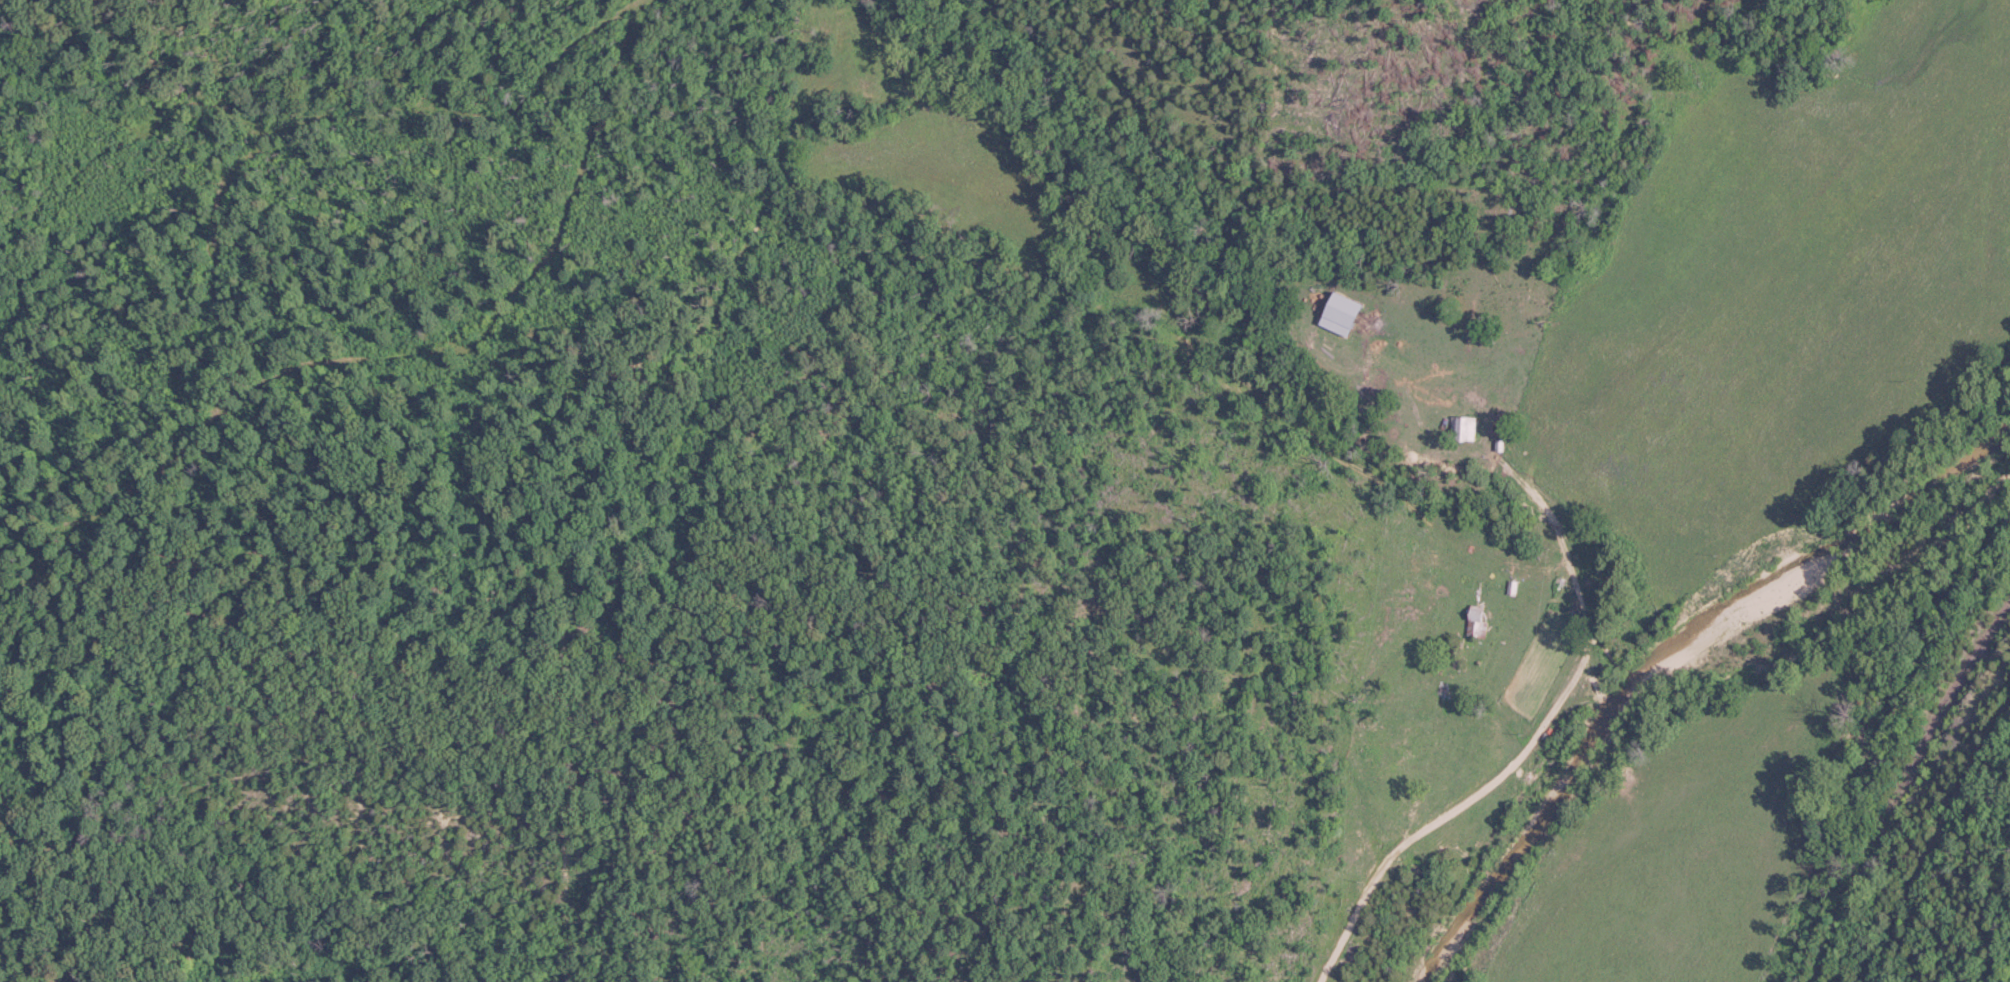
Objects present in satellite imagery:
building: (1343, 316)
building: (1464, 430)
building: (1478, 623)
road: (1499, 776)
railway: (1900, 789)

